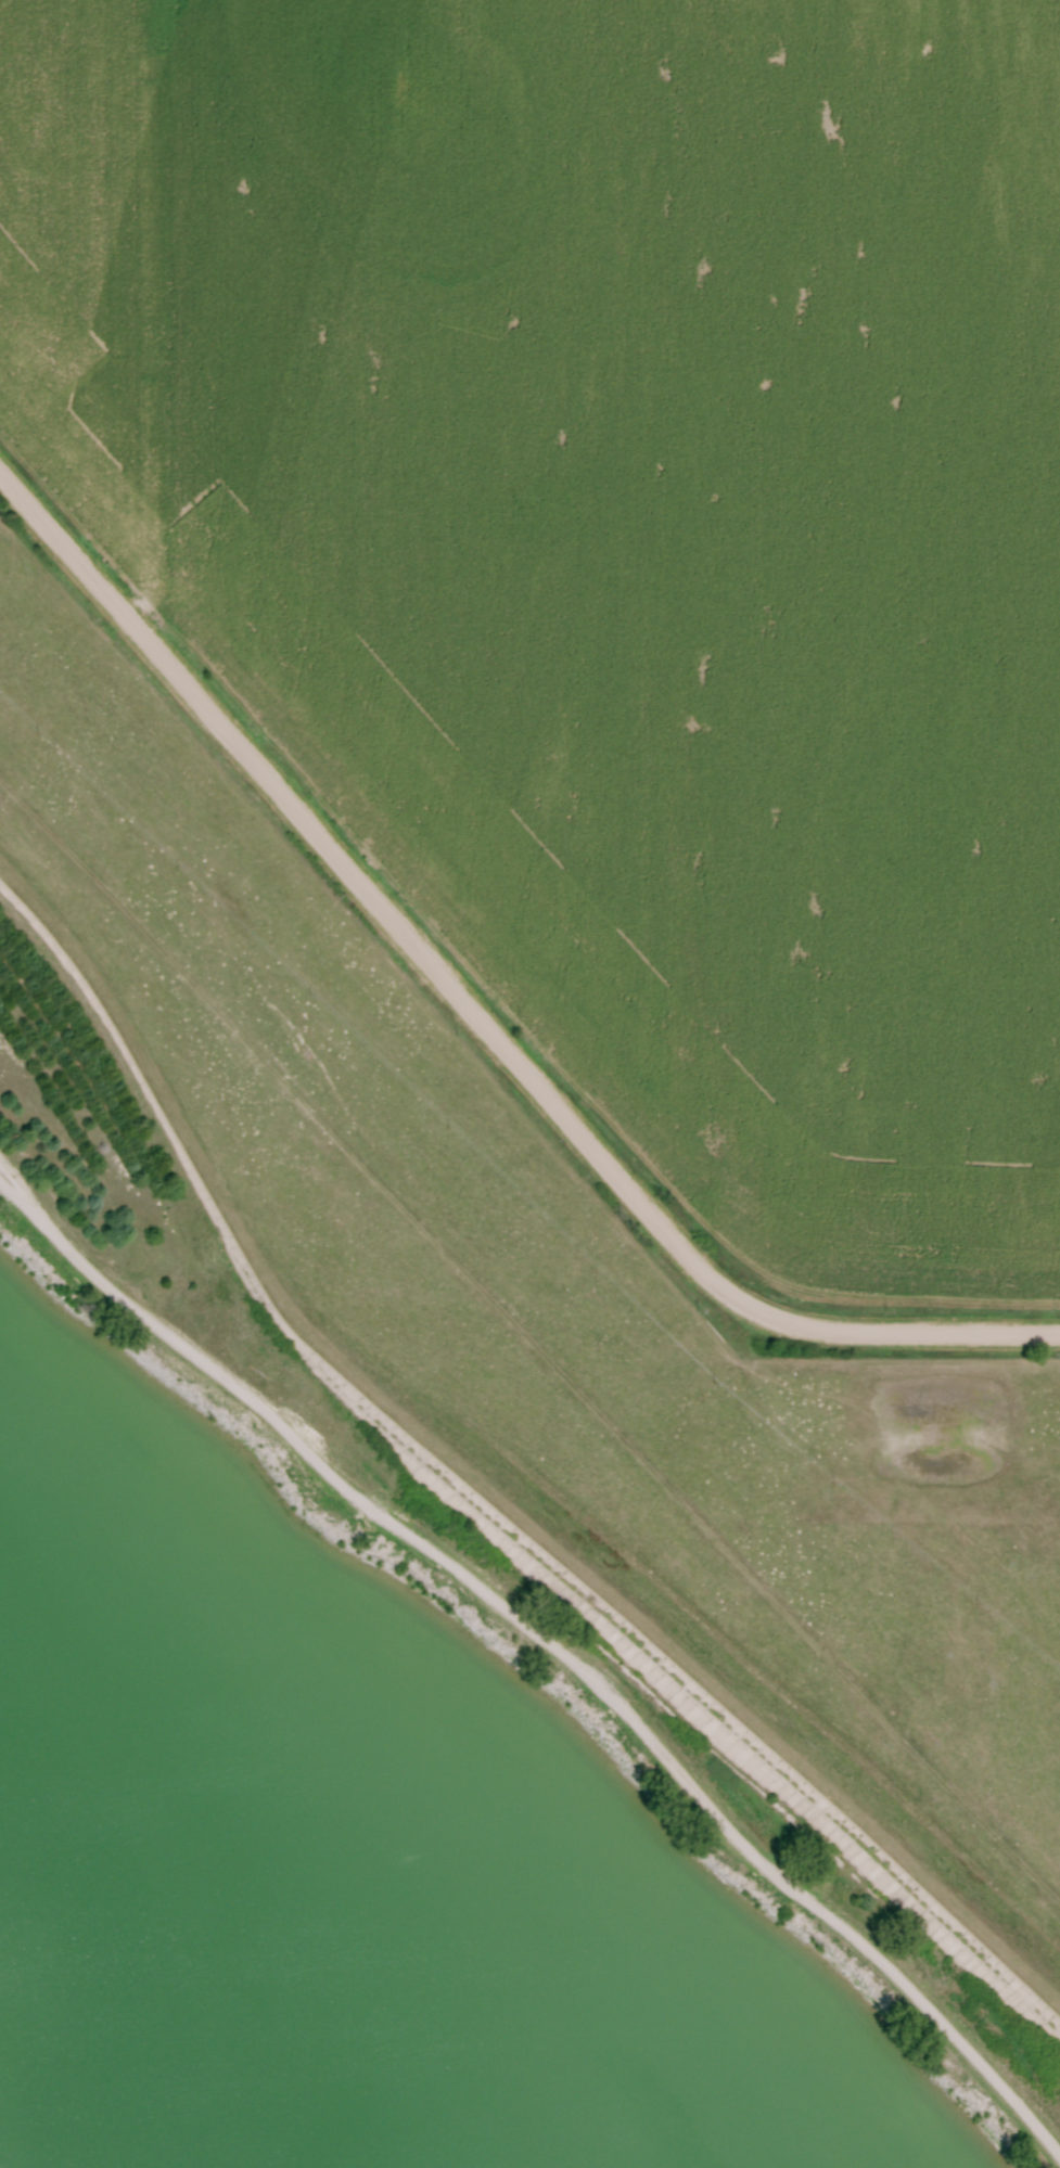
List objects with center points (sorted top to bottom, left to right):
crop: (104, 255)
road: (473, 1012)
road: (470, 1515)
road: (551, 1647)

